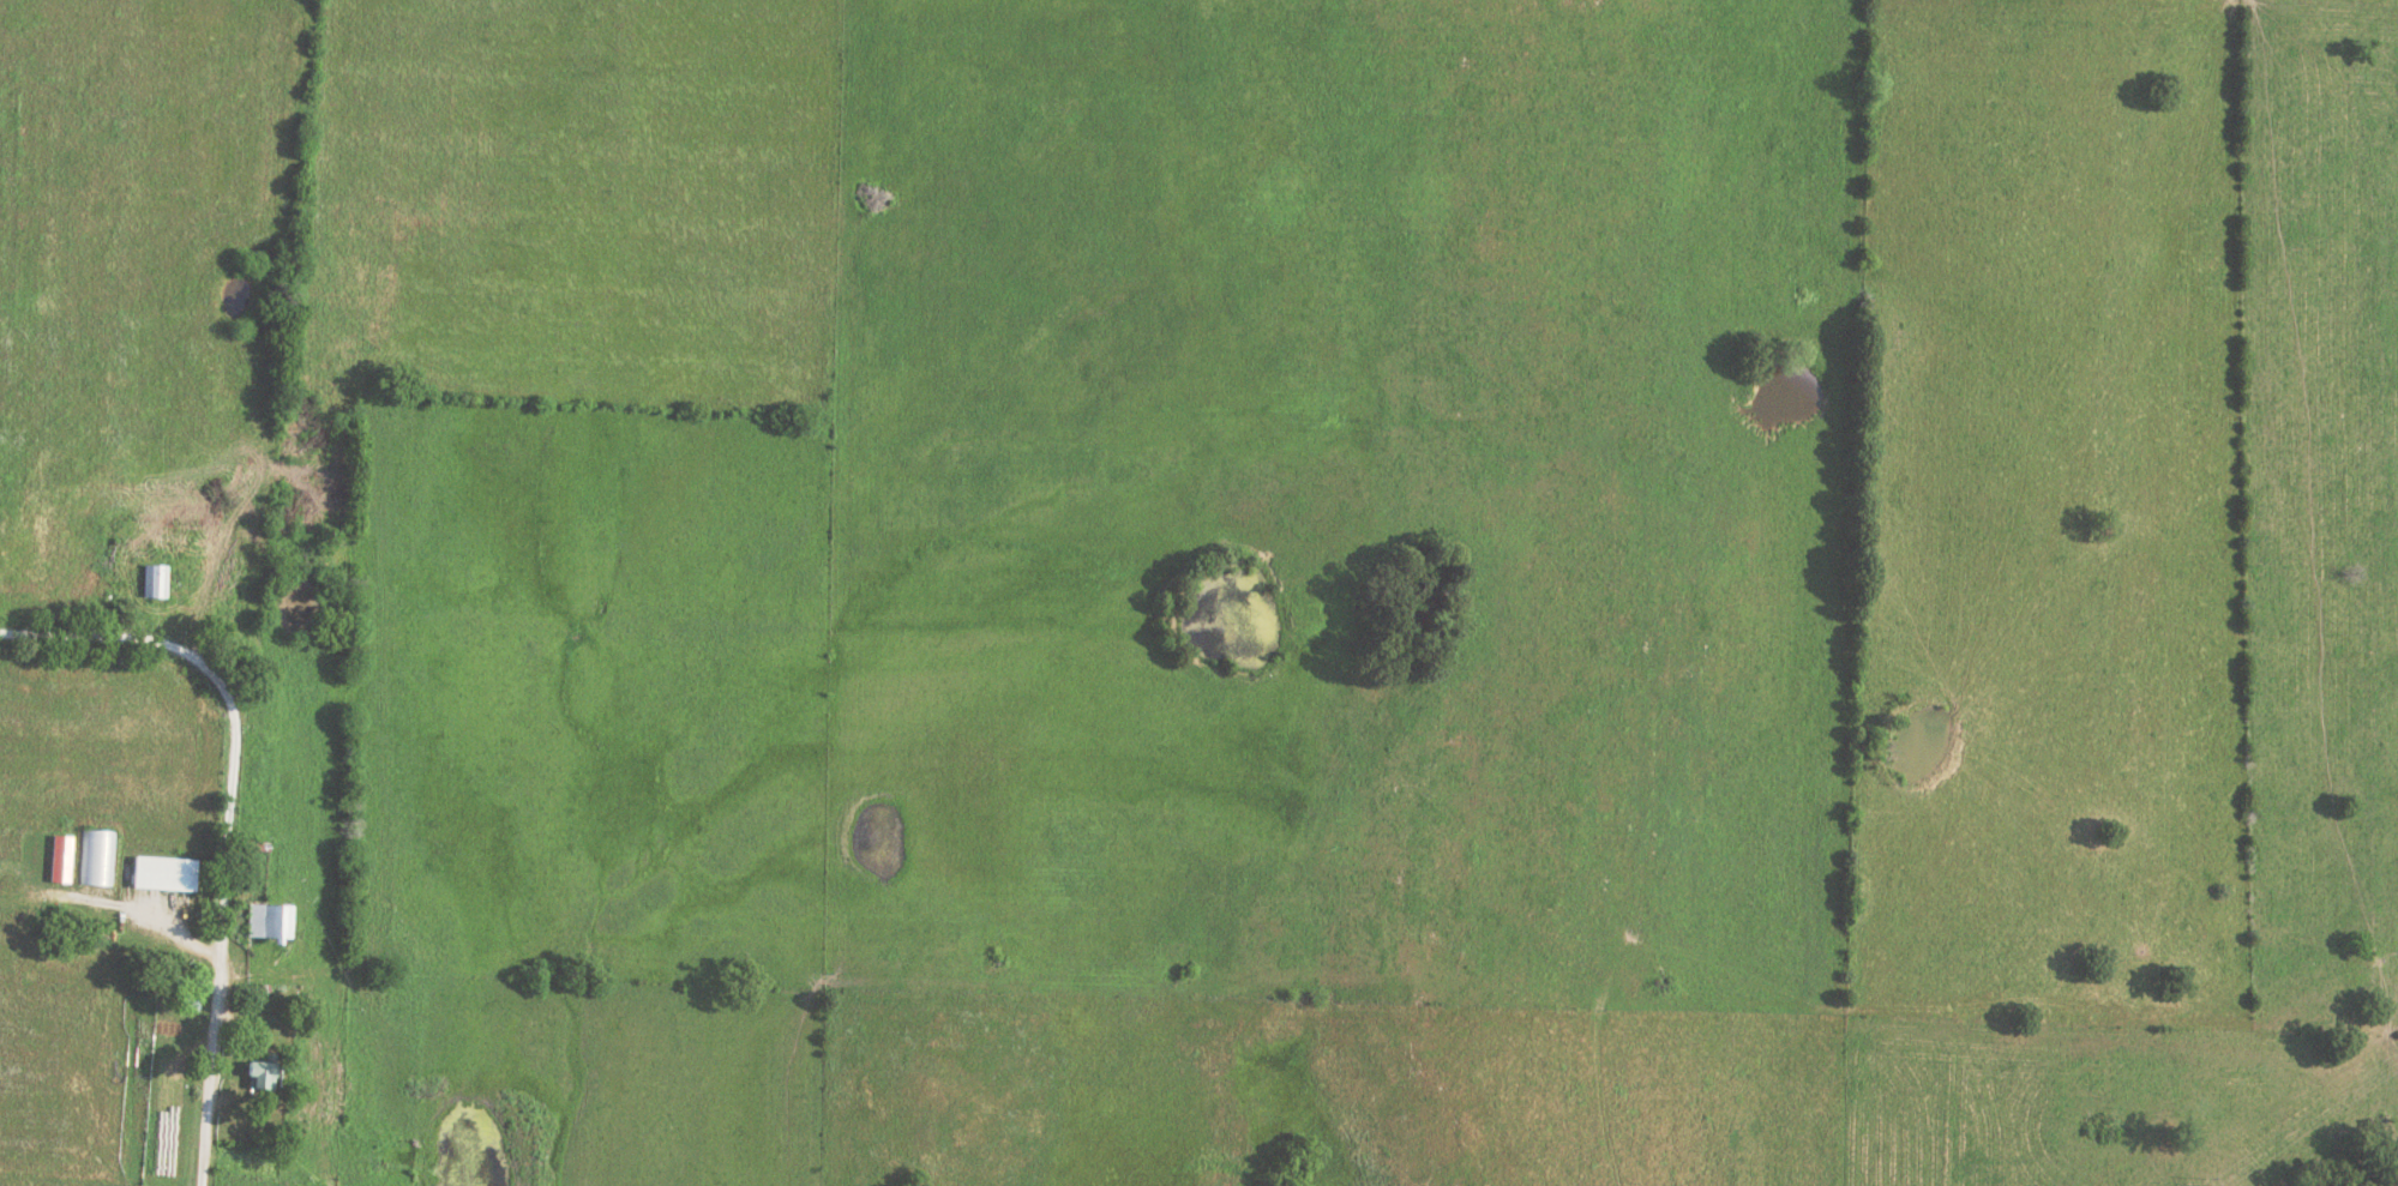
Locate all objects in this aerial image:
building: (152, 580)
road: (233, 813)
building: (163, 873)
building: (268, 921)
building: (258, 1076)
road: (1601, 1094)

